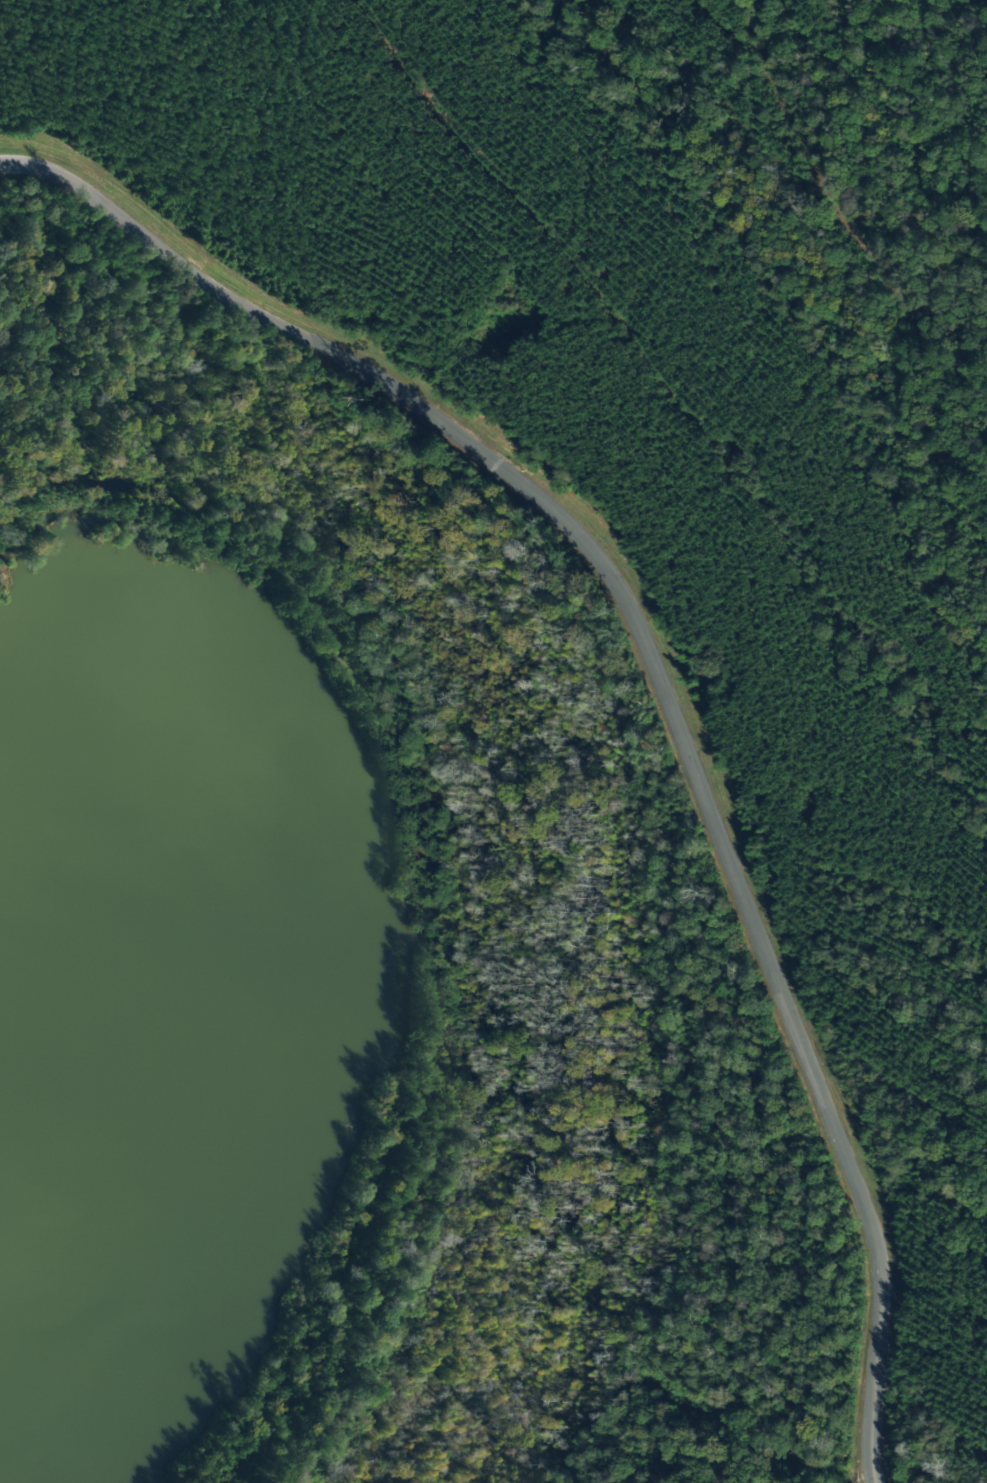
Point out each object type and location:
road: (654, 673)

